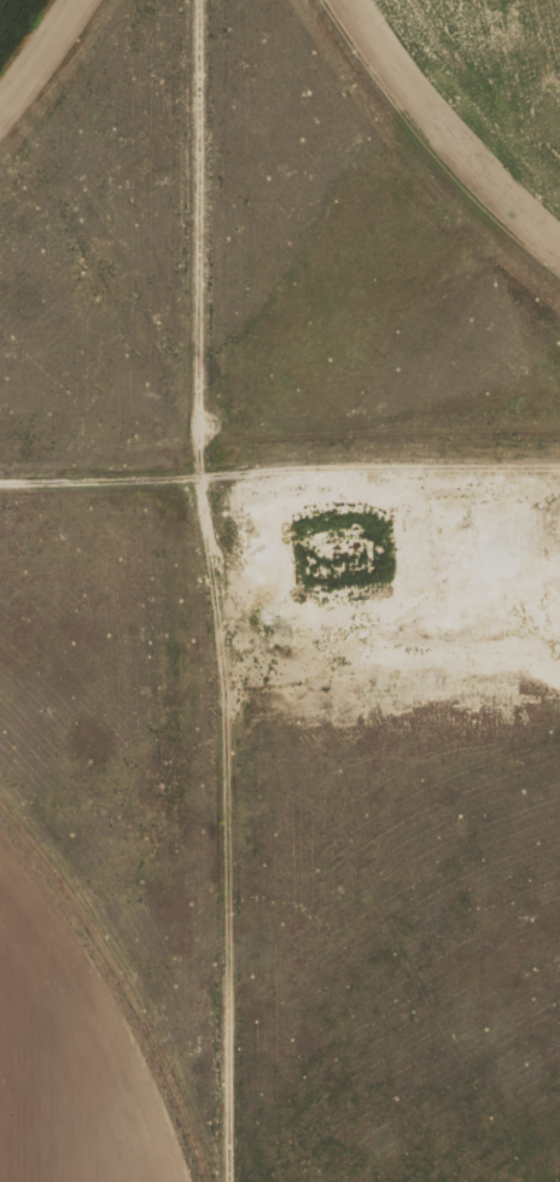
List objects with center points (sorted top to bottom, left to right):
road: (280, 394)
road: (228, 566)

